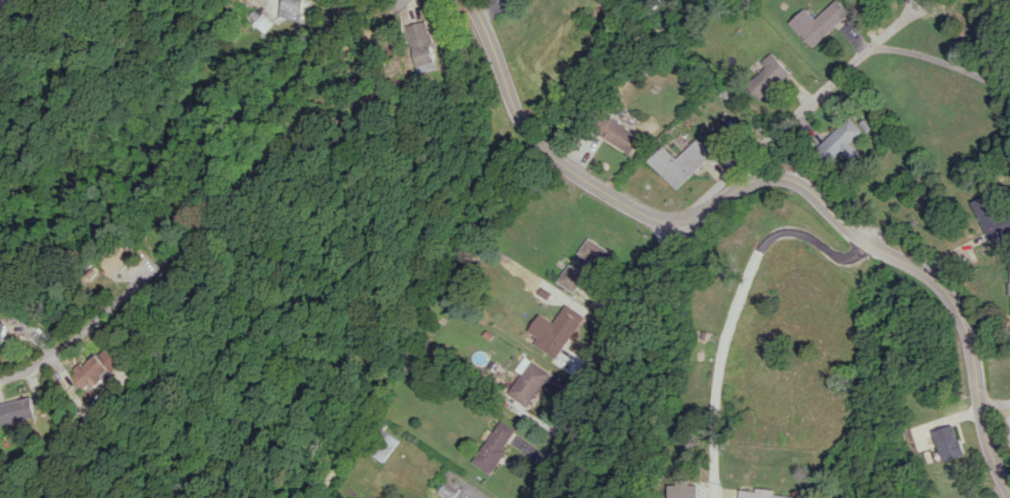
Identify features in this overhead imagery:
road: (409, 7)
road: (14, 8)
building: (296, 9)
building: (818, 23)
building: (426, 44)
road: (942, 61)
building: (765, 78)
road: (790, 119)
building: (623, 136)
road: (536, 139)
building: (839, 142)
building: (677, 163)
building: (992, 217)
building: (594, 257)
road: (897, 260)
building: (118, 262)
building: (569, 278)
road: (737, 302)
building: (3, 331)
building: (556, 332)
road: (85, 333)
road: (594, 353)
building: (97, 369)
building: (525, 383)
building: (18, 411)
building: (949, 444)
building: (386, 446)
building: (491, 448)
building: (685, 490)
building: (763, 494)
building: (343, 497)

